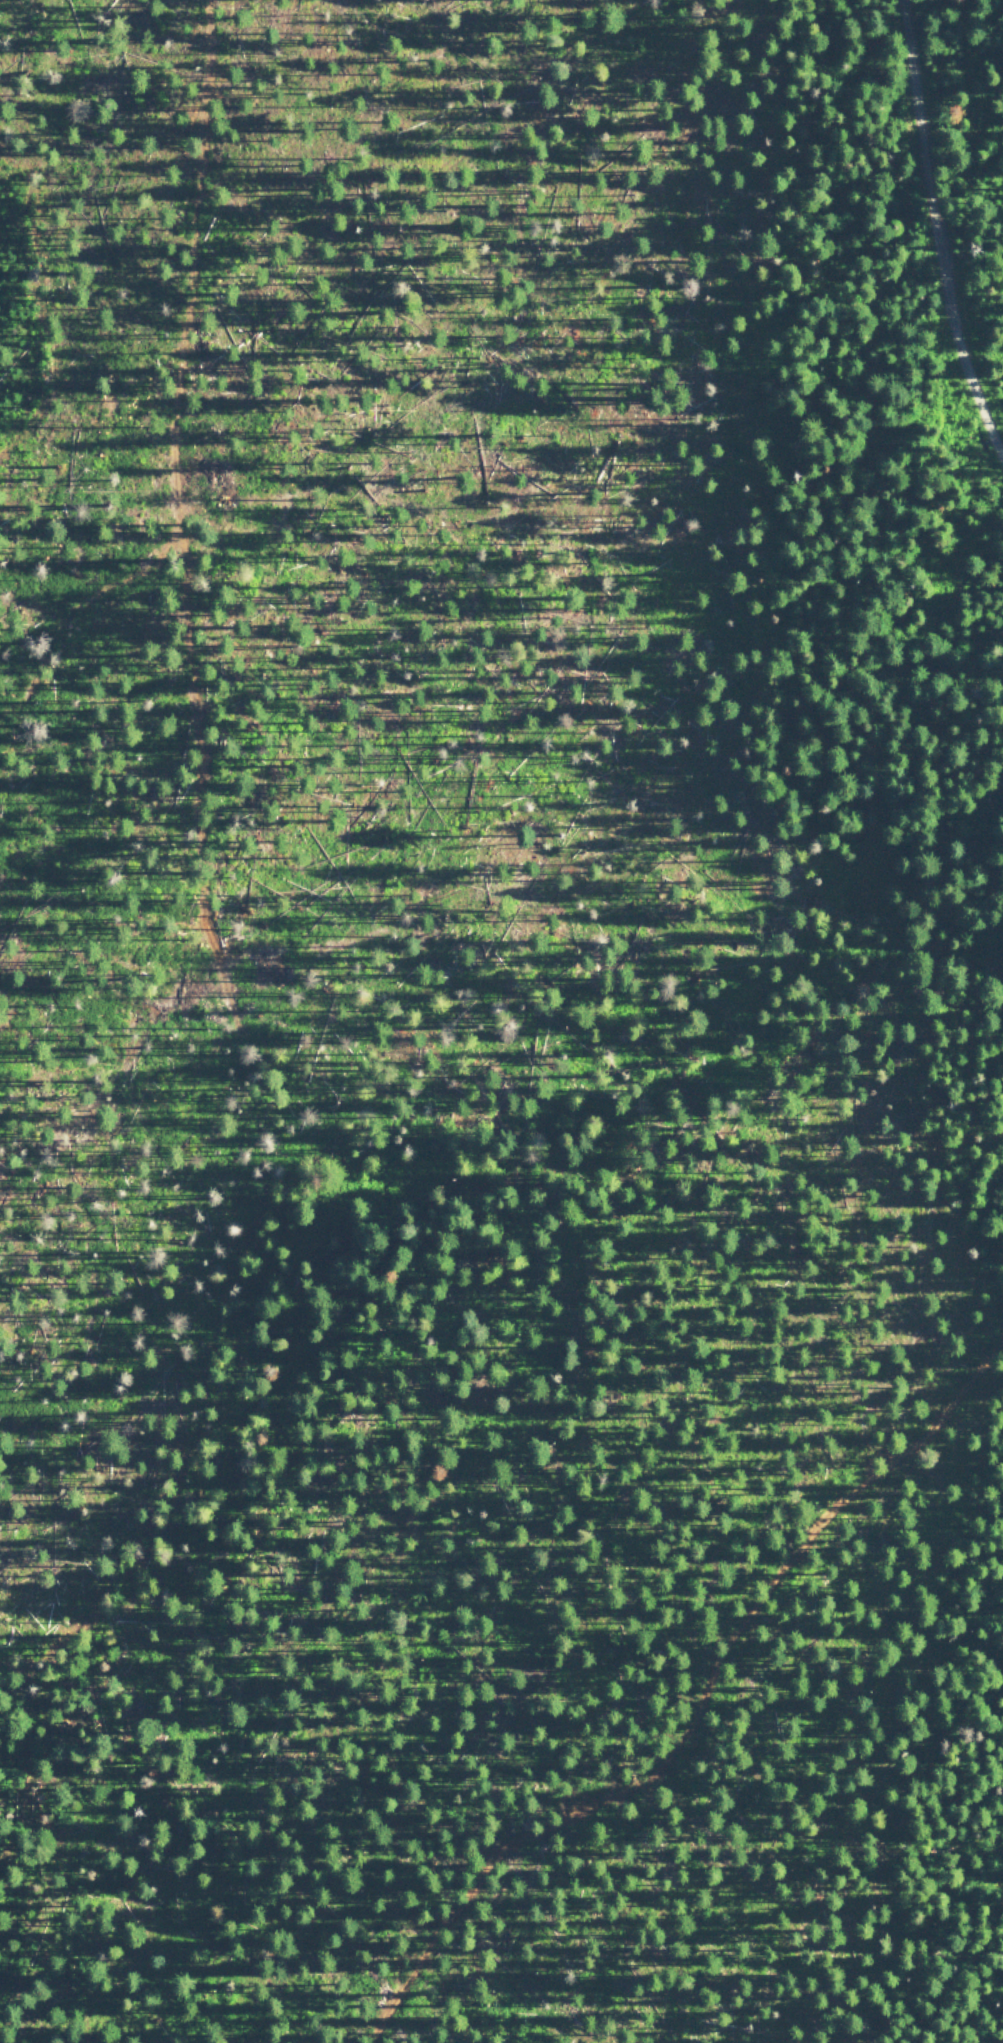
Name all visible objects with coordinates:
road: (933, 246)

